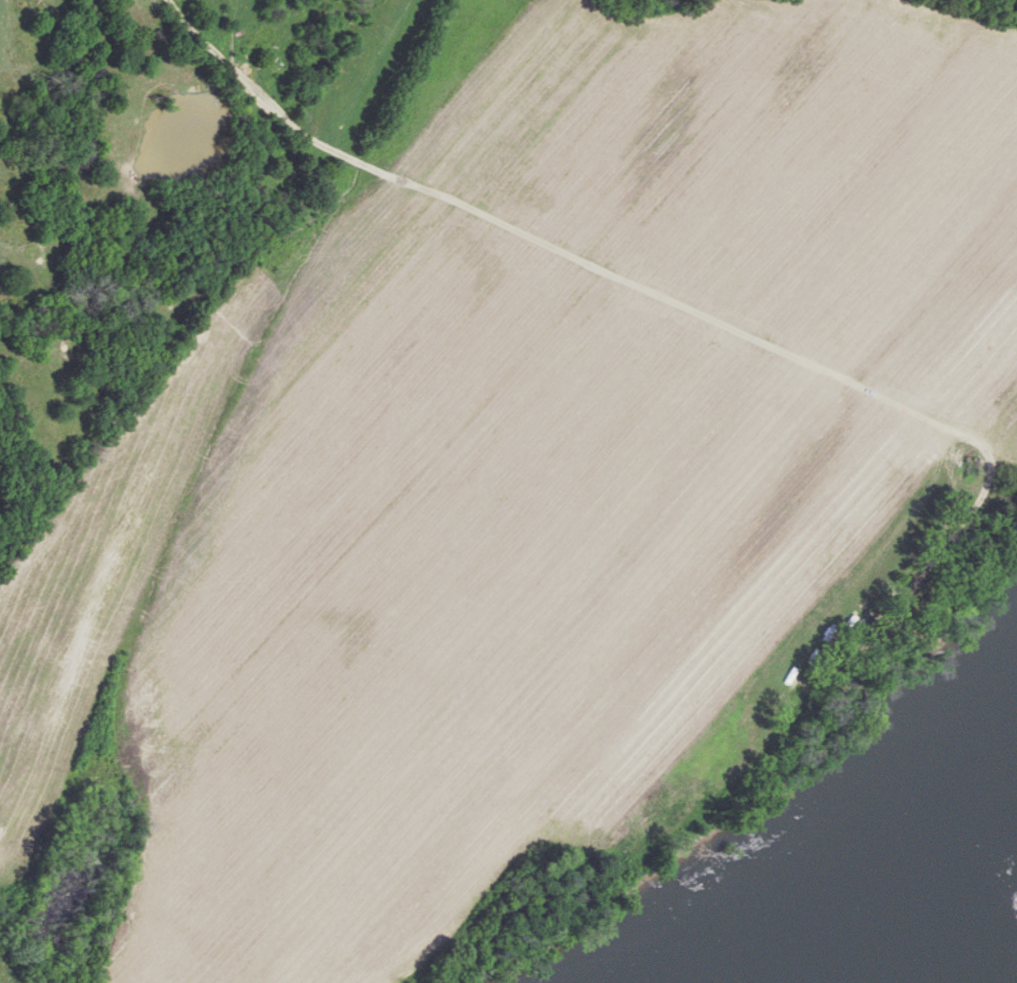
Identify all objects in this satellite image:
road: (543, 241)
river: (904, 883)

